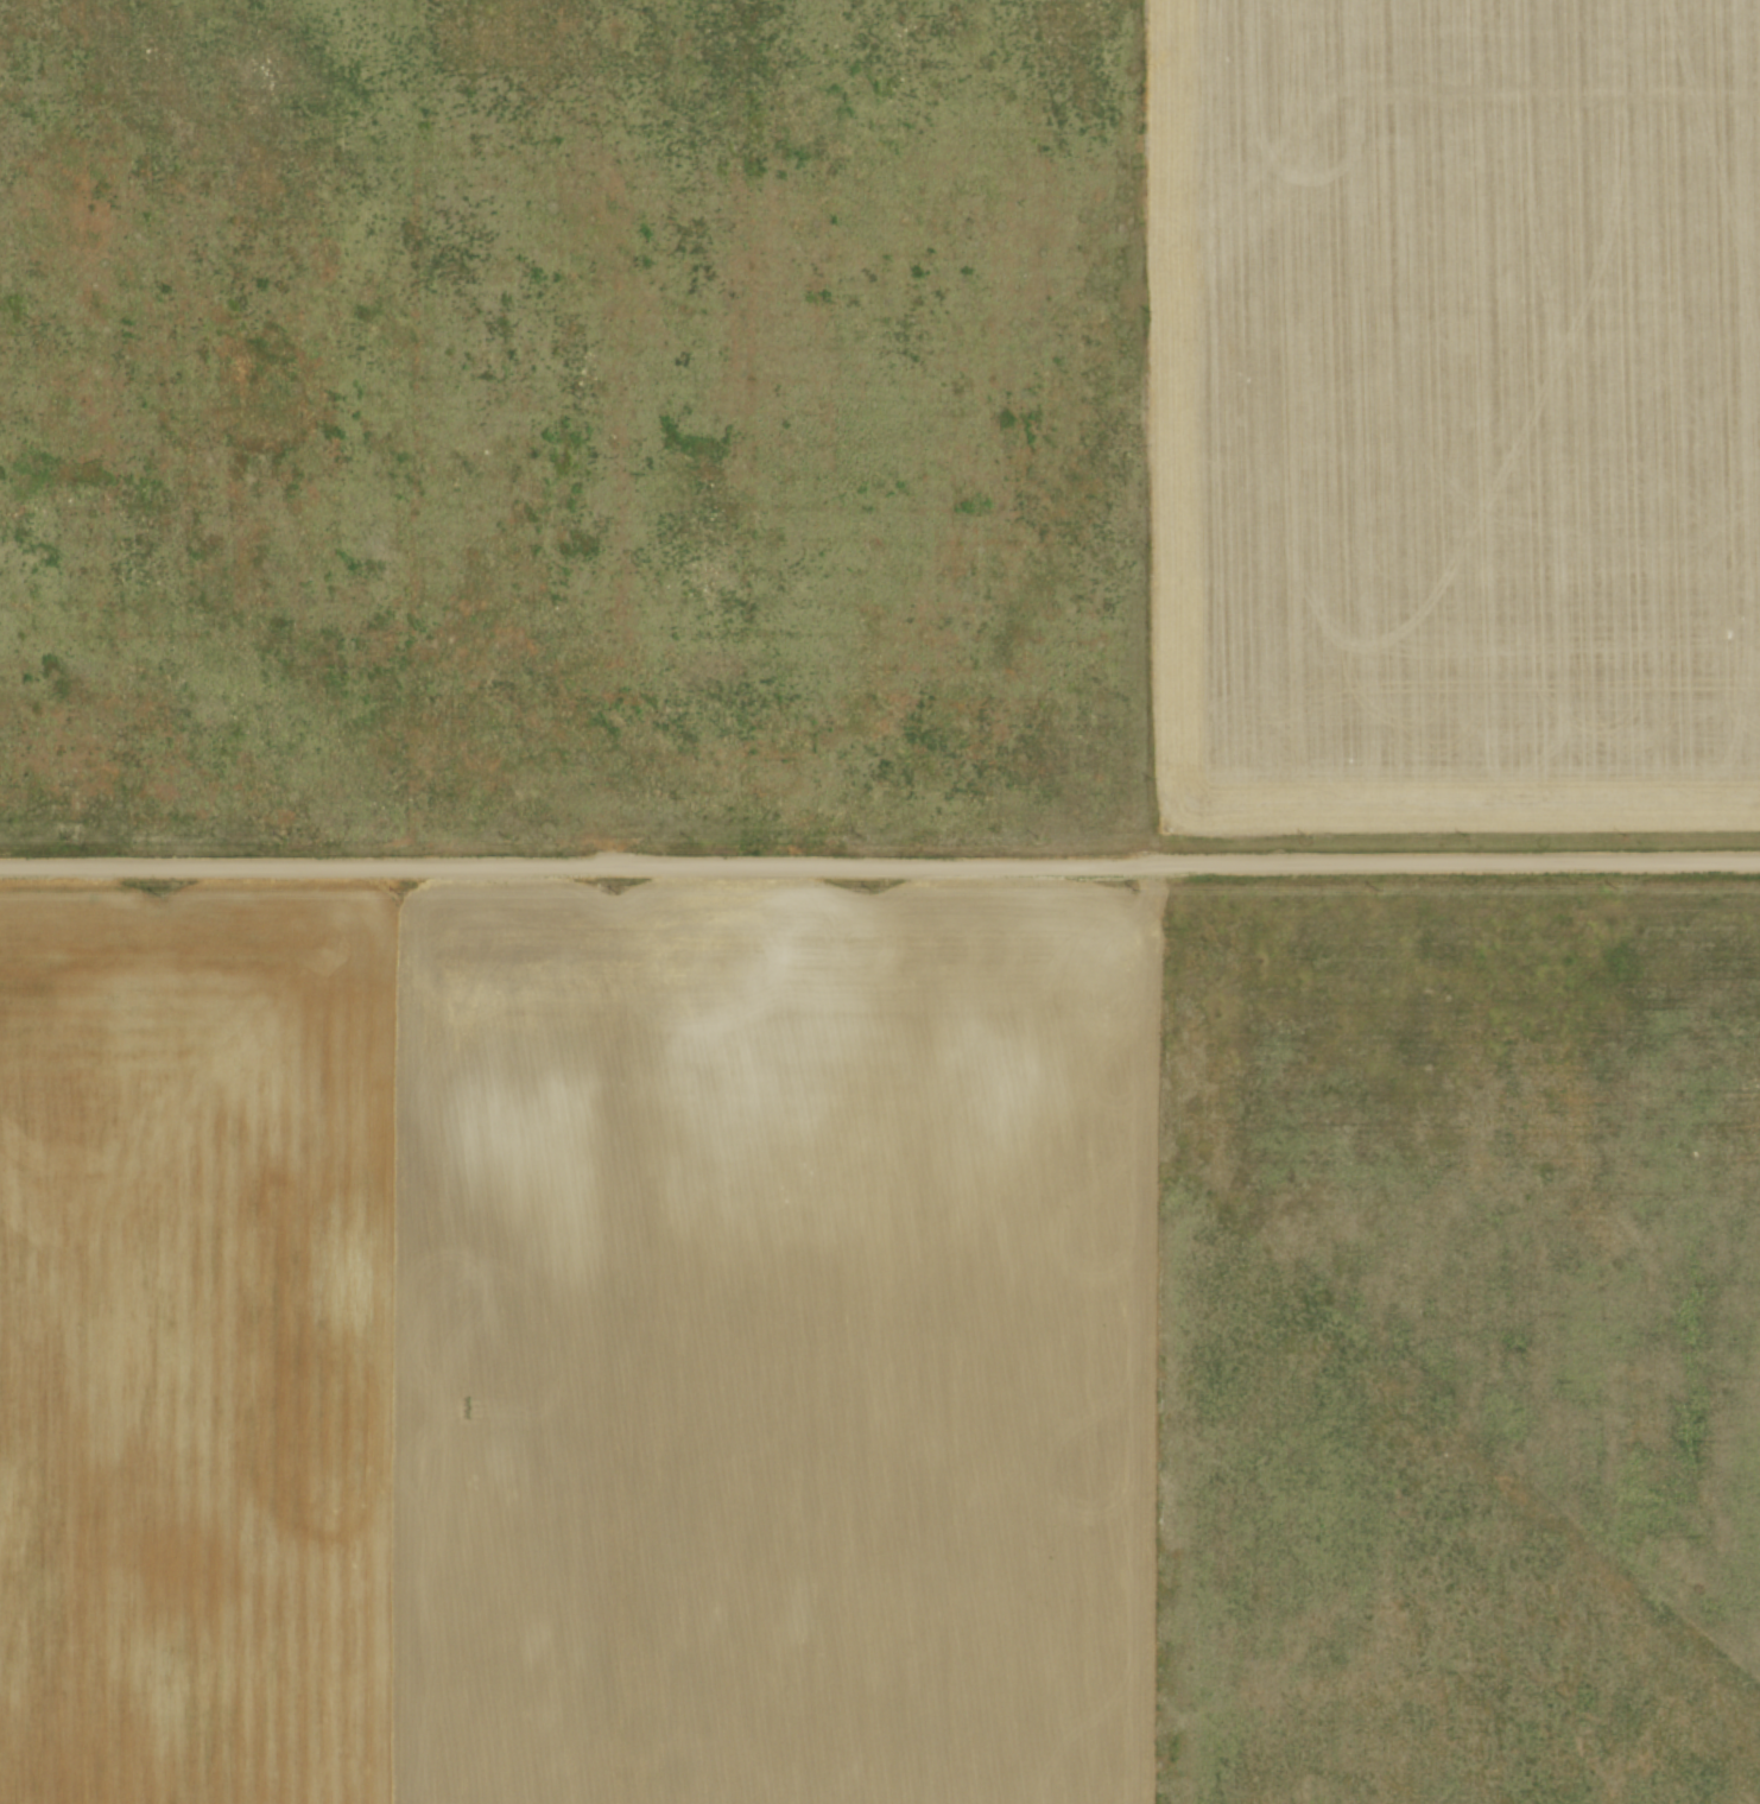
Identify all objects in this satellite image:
crop: (878, 418)
road: (879, 861)
crop: (726, 1386)

